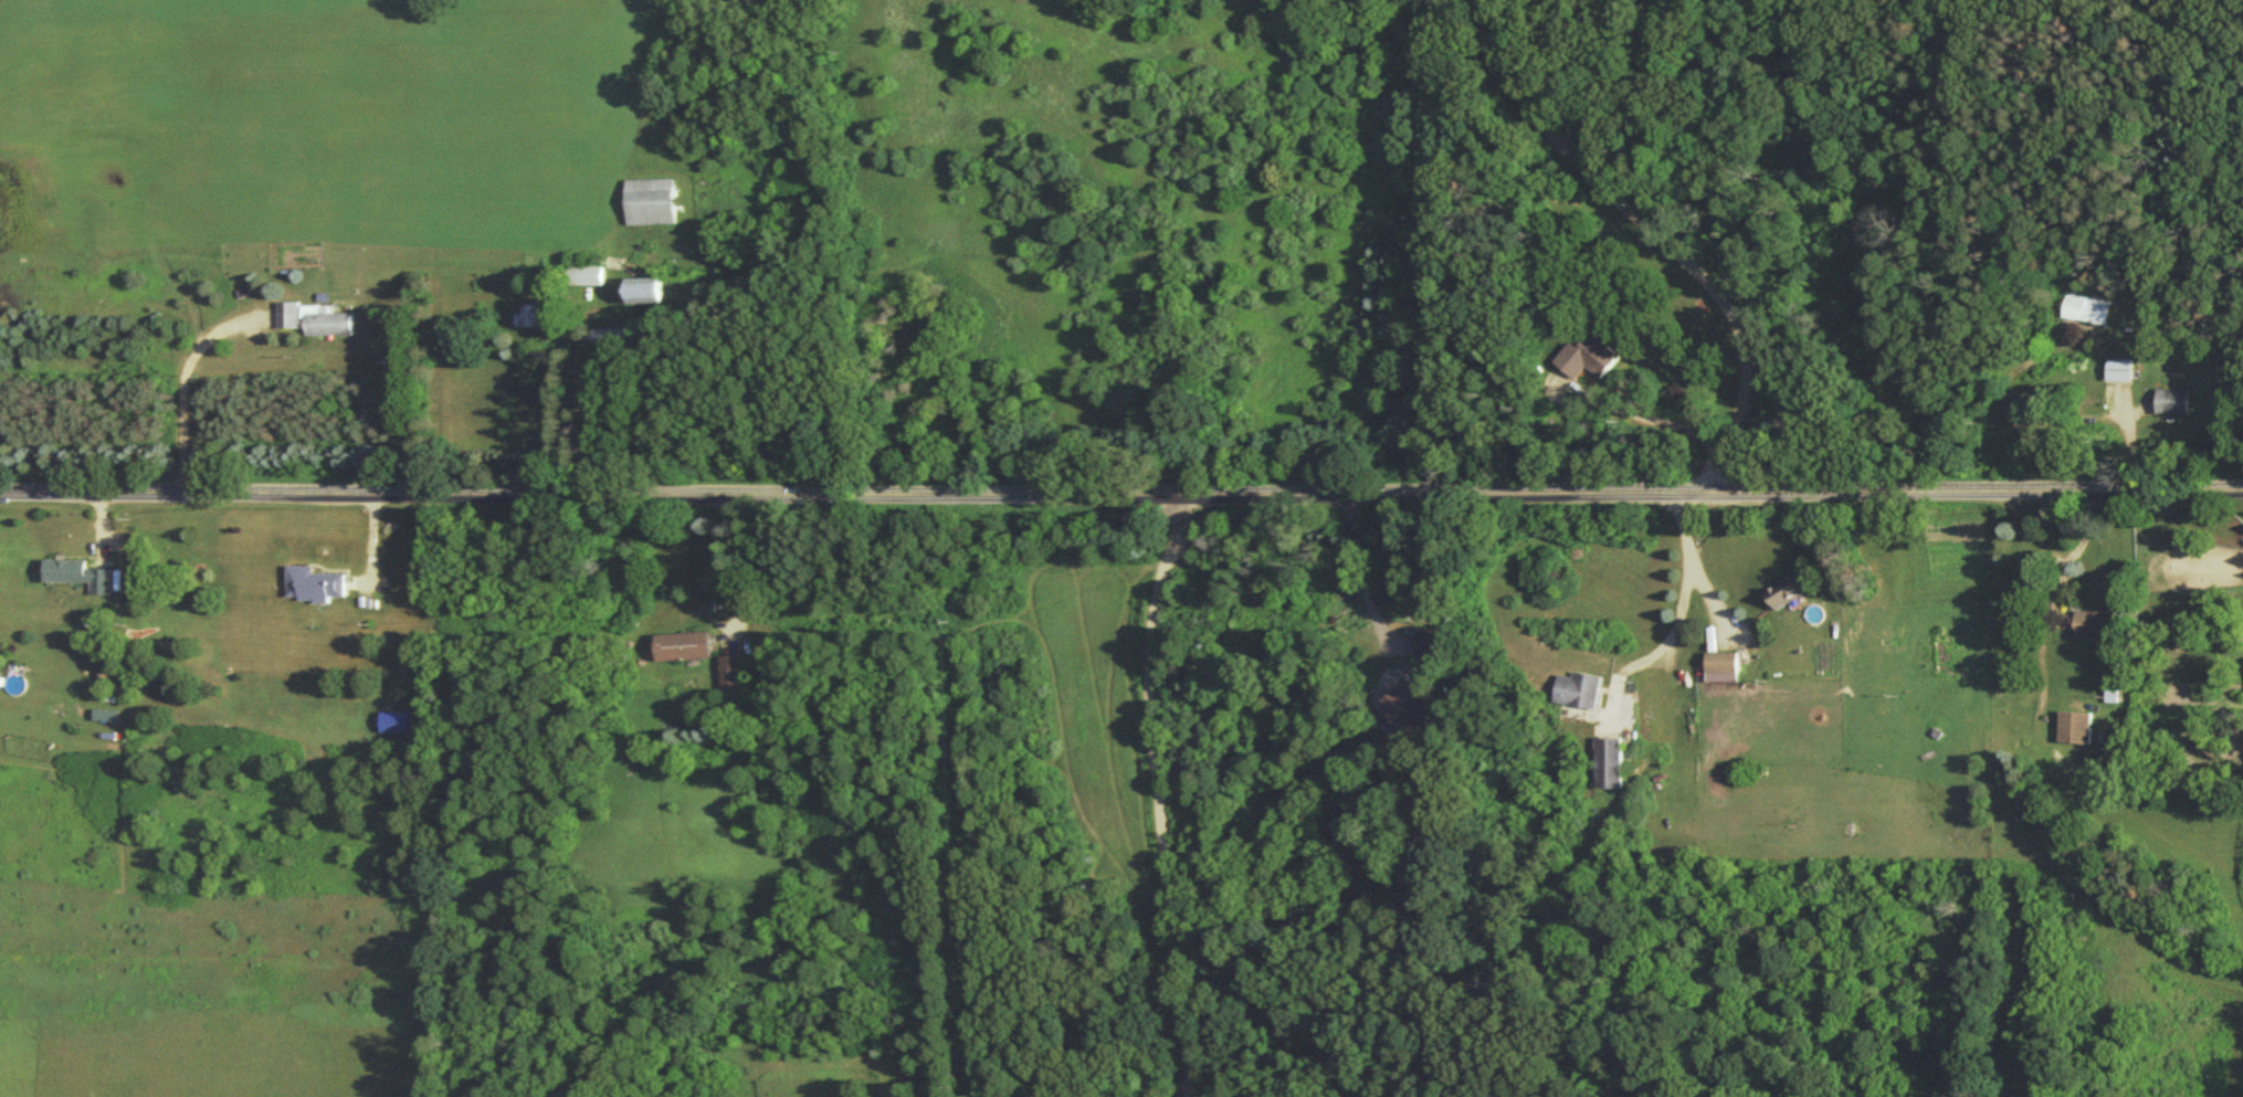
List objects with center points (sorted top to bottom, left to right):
building: (653, 207)
road: (1652, 239)
building: (585, 279)
building: (649, 295)
building: (2085, 314)
building: (537, 320)
building: (316, 325)
building: (1591, 361)
building: (2119, 373)
road: (178, 379)
building: (2172, 405)
road: (573, 420)
road: (1656, 420)
road: (1121, 492)
road: (729, 560)
road: (1350, 574)
building: (80, 580)
building: (314, 590)
building: (1791, 594)
road: (1674, 613)
building: (2097, 630)
building: (685, 651)
building: (1724, 672)
building: (731, 676)
building: (1579, 695)
building: (1408, 716)
building: (2076, 732)
building: (1610, 768)
road: (1150, 792)

